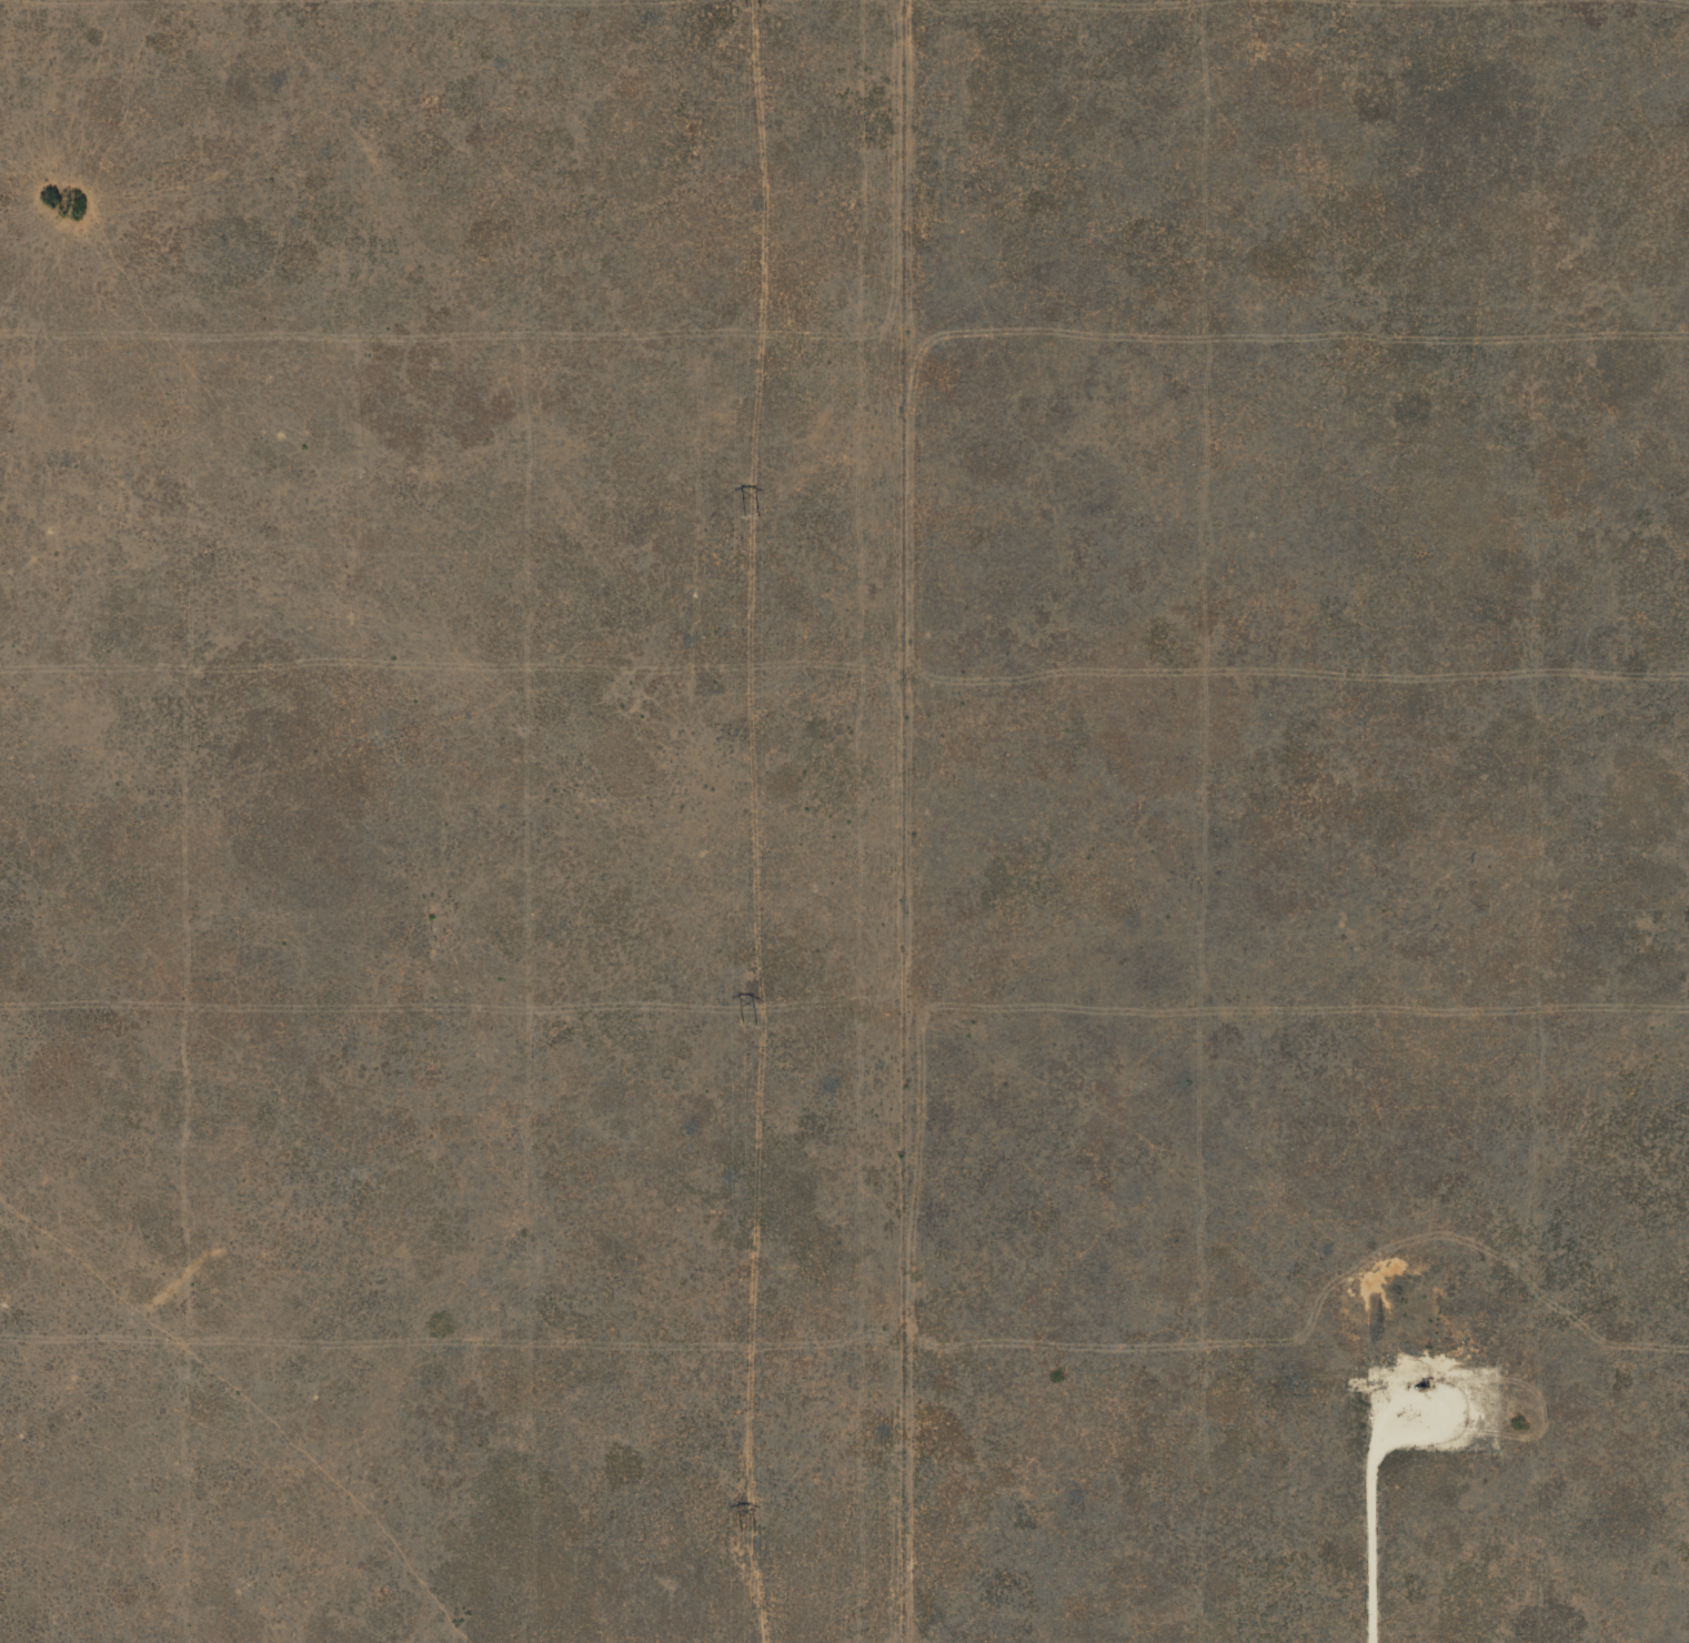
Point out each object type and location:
power tower: (755, 6)
power tower: (754, 511)
power tower: (751, 1024)
power tower: (748, 1532)

